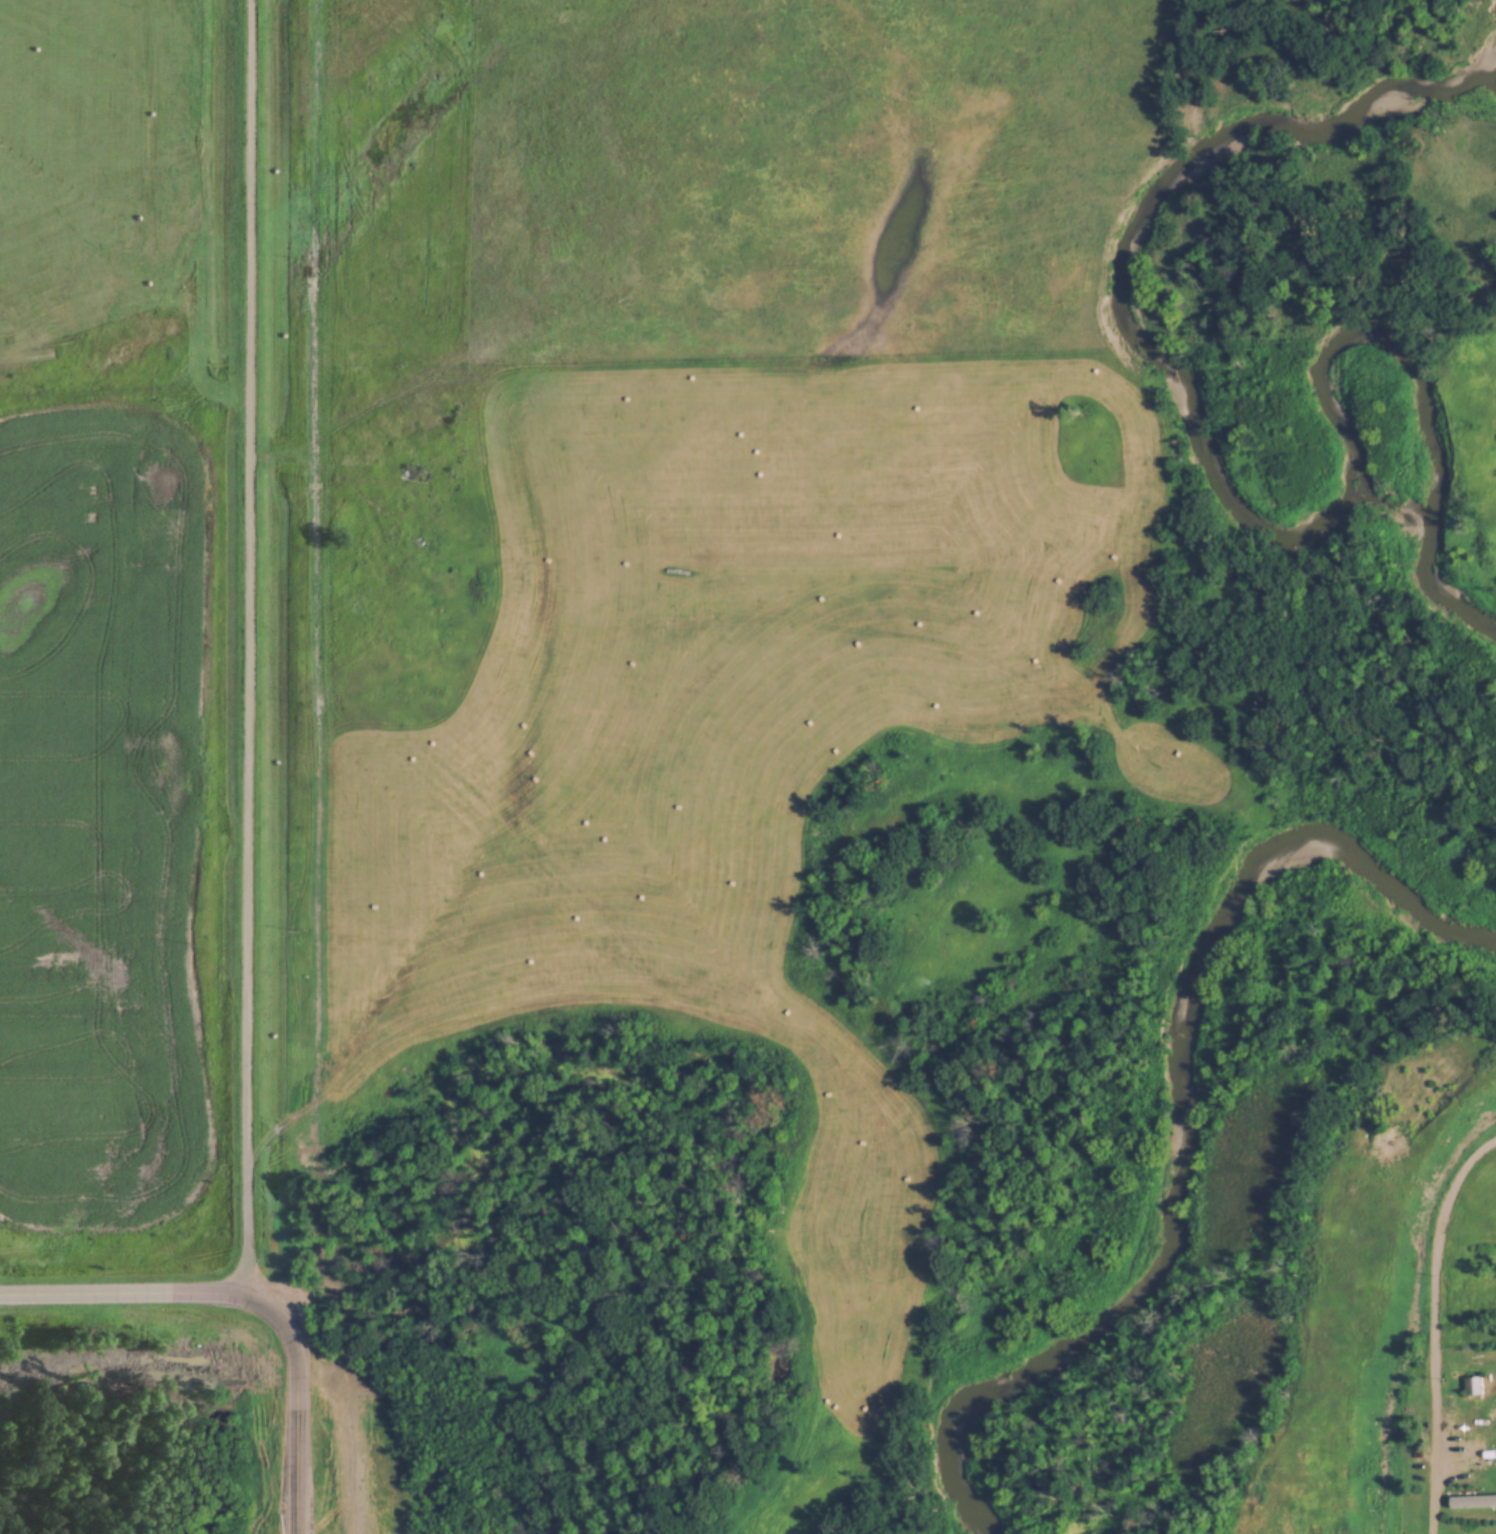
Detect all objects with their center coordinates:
river: (1217, 467)
road: (298, 650)
river: (1183, 1076)
road: (149, 1302)
building: (1478, 1387)
road: (297, 1417)
building: (1479, 1455)

